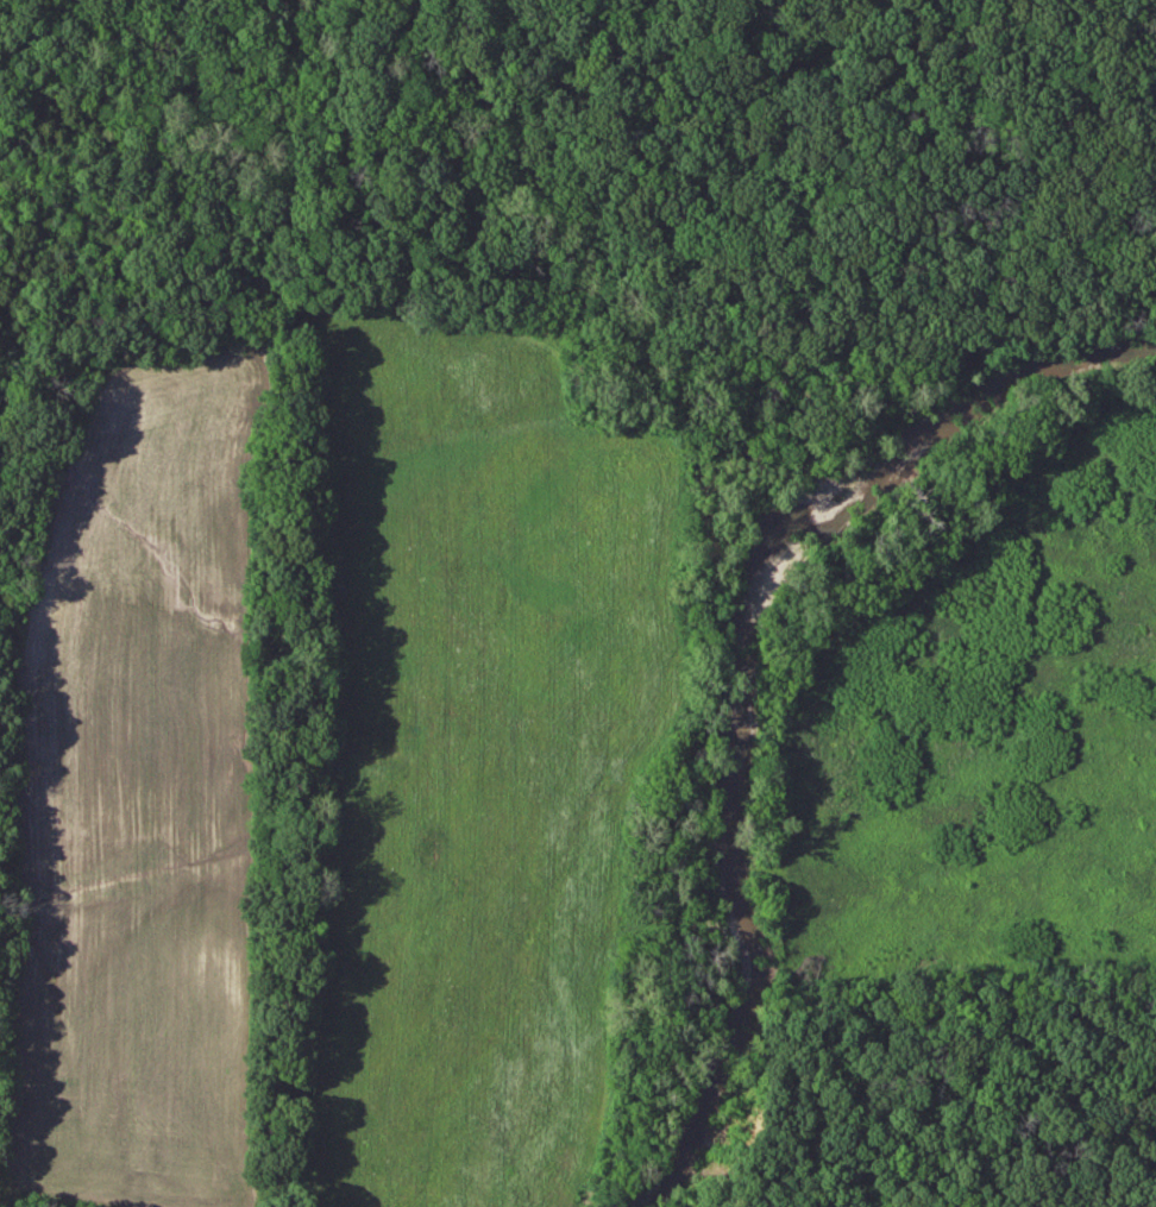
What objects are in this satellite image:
river: (729, 617)

